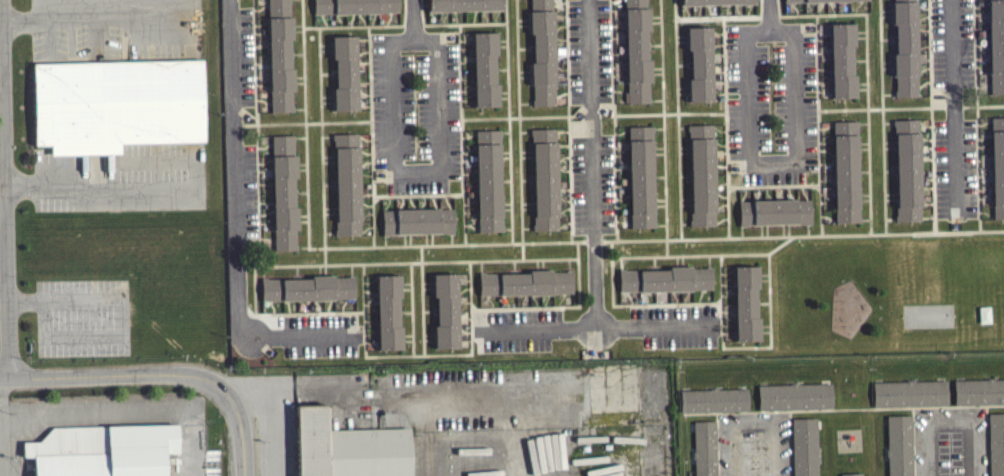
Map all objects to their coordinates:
building: (798, 0)
building: (714, 2)
building: (463, 5)
building: (354, 6)
road: (886, 10)
road: (749, 15)
road: (886, 15)
road: (144, 16)
road: (769, 16)
road: (90, 17)
road: (43, 18)
road: (414, 19)
road: (463, 22)
road: (297, 25)
road: (366, 26)
road: (297, 31)
road: (859, 31)
road: (771, 32)
road: (681, 35)
road: (860, 37)
road: (413, 39)
road: (888, 39)
road: (681, 41)
road: (326, 44)
building: (996, 45)
building: (904, 47)
road: (326, 50)
building: (637, 50)
parking lot: (590, 51)
building: (542, 52)
road: (297, 53)
road: (929, 53)
parking lot: (245, 56)
building: (280, 56)
road: (662, 56)
road: (859, 59)
building: (842, 60)
road: (724, 62)
road: (887, 62)
building: (699, 63)
road: (683, 64)
road: (976, 66)
road: (887, 67)
building: (484, 68)
road: (867, 71)
building: (345, 72)
road: (256, 73)
road: (328, 73)
road: (299, 76)
road: (299, 82)
road: (861, 82)
road: (683, 86)
road: (862, 89)
road: (683, 93)
road: (888, 93)
road: (327, 96)
road: (748, 96)
road: (795, 96)
road: (327, 102)
parking lot: (773, 102)
building: (115, 103)
road: (952, 103)
road: (393, 107)
road: (434, 107)
road: (299, 108)
parking lot: (954, 108)
parking lot: (416, 110)
road: (931, 113)
road: (525, 116)
road: (883, 116)
road: (345, 121)
road: (315, 122)
road: (863, 122)
road: (888, 122)
road: (924, 123)
road: (819, 124)
road: (658, 127)
road: (679, 127)
road: (683, 127)
road: (520, 129)
road: (509, 132)
road: (924, 138)
road: (889, 141)
road: (863, 142)
road: (658, 147)
road: (684, 147)
road: (889, 147)
road: (863, 148)
road: (924, 148)
road: (3, 149)
road: (615, 152)
road: (684, 152)
road: (658, 153)
road: (925, 157)
road: (153, 160)
road: (772, 161)
building: (997, 164)
road: (595, 165)
road: (235, 168)
road: (978, 168)
building: (906, 169)
building: (845, 170)
road: (890, 170)
road: (863, 171)
road: (156, 174)
building: (701, 174)
building: (640, 175)
road: (685, 175)
road: (413, 176)
road: (658, 176)
building: (544, 178)
road: (926, 178)
building: (488, 179)
building: (346, 183)
parking lot: (593, 184)
road: (258, 187)
road: (926, 187)
road: (7, 188)
road: (100, 189)
parking lot: (247, 190)
building: (283, 192)
road: (863, 193)
road: (686, 197)
road: (659, 199)
road: (863, 199)
road: (891, 199)
road: (926, 202)
road: (659, 204)
road: (686, 204)
building: (775, 212)
road: (927, 217)
road: (865, 219)
road: (890, 219)
building: (417, 220)
road: (685, 223)
road: (660, 224)
road: (783, 229)
road: (788, 229)
road: (809, 229)
road: (762, 230)
road: (767, 230)
road: (742, 231)
road: (810, 234)
road: (610, 240)
road: (302, 246)
road: (365, 246)
road: (421, 253)
road: (694, 254)
road: (677, 260)
road: (683, 260)
road: (709, 260)
road: (621, 262)
road: (654, 262)
road: (272, 265)
road: (325, 269)
road: (351, 269)
road: (320, 270)
road: (263, 271)
road: (297, 272)
road: (763, 273)
building: (665, 278)
road: (763, 279)
road: (405, 282)
road: (427, 282)
building: (526, 282)
road: (579, 282)
road: (363, 287)
building: (308, 288)
road: (405, 288)
road: (427, 288)
road: (4, 299)
road: (612, 299)
building: (746, 302)
road: (763, 303)
building: (445, 309)
road: (429, 310)
road: (405, 311)
building: (388, 312)
road: (423, 313)
building: (983, 313)
road: (121, 315)
park: (927, 315)
parking lot: (83, 316)
road: (765, 325)
parking lot: (675, 326)
parking lot: (517, 329)
road: (602, 331)
road: (765, 331)
road: (429, 333)
road: (407, 334)
parking lot: (320, 335)
road: (302, 338)
road: (407, 339)
road: (429, 339)
road: (771, 345)
road: (365, 355)
road: (144, 375)
road: (308, 390)
building: (979, 391)
building: (909, 392)
building: (794, 395)
building: (713, 399)
road: (843, 408)
road: (86, 413)
road: (273, 415)
road: (949, 419)
road: (753, 420)
road: (986, 440)
road: (913, 441)
road: (790, 443)
building: (996, 443)
road: (717, 444)
building: (899, 445)
building: (804, 446)
building: (347, 448)
building: (704, 448)
building: (103, 450)
building: (753, 454)
building: (949, 455)
road: (241, 463)
building: (851, 474)

